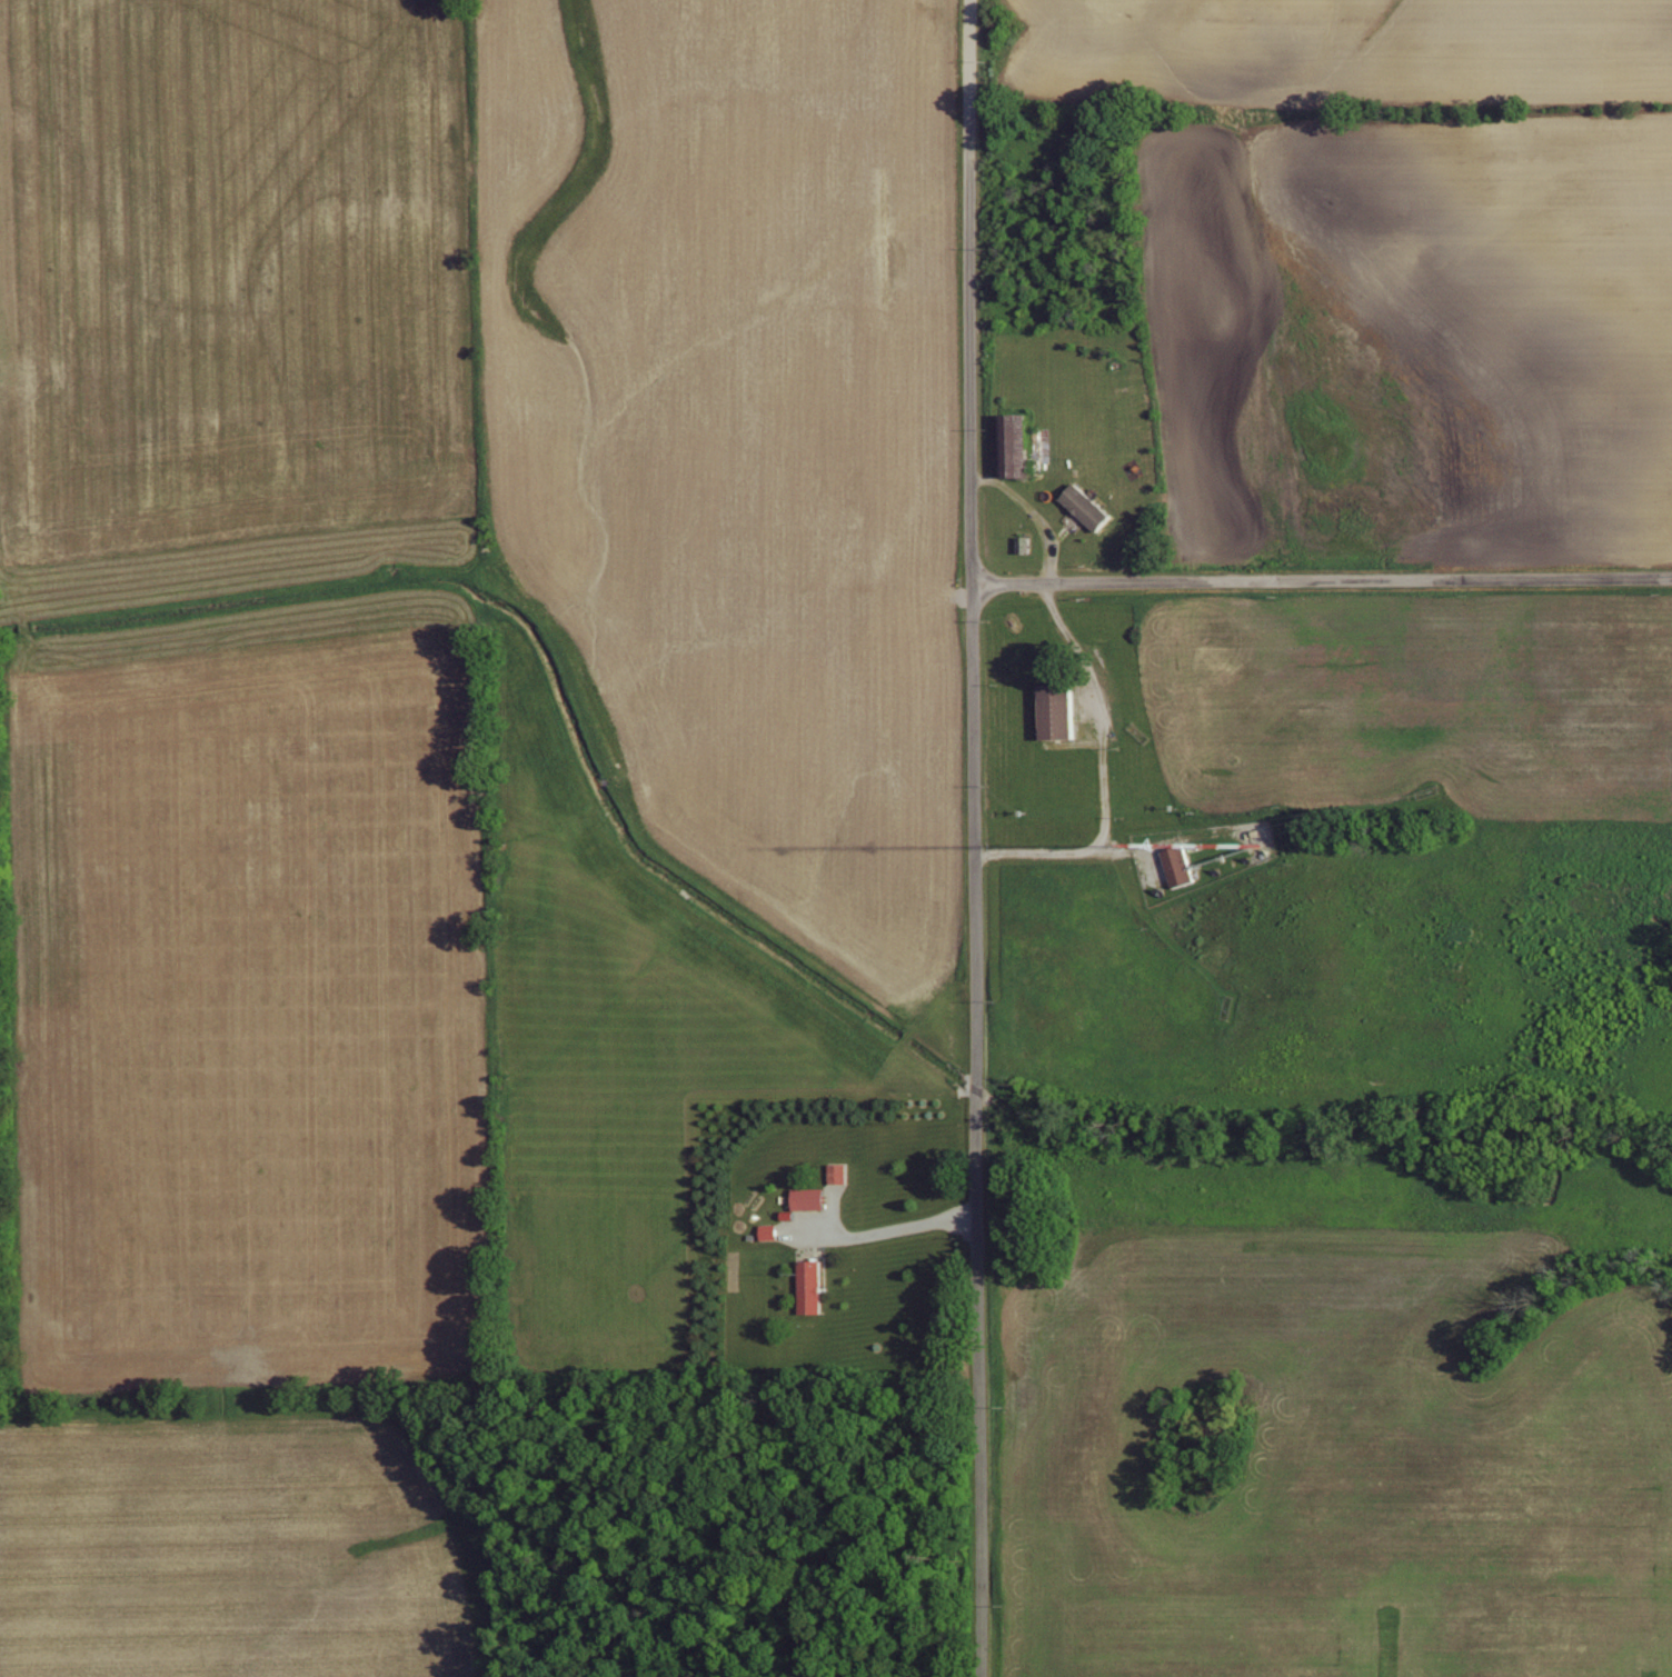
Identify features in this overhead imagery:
crop: (1344, 42)
crop: (226, 291)
crop: (1483, 322)
crop: (735, 431)
building: (1008, 443)
building: (1083, 505)
road: (1320, 581)
crop: (1414, 705)
building: (1051, 710)
road: (1096, 712)
road: (971, 838)
road: (1058, 852)
building: (1173, 862)
crop: (238, 1006)
crop: (623, 1071)
building: (834, 1170)
building: (804, 1196)
building: (765, 1229)
road: (893, 1229)
building: (807, 1284)

